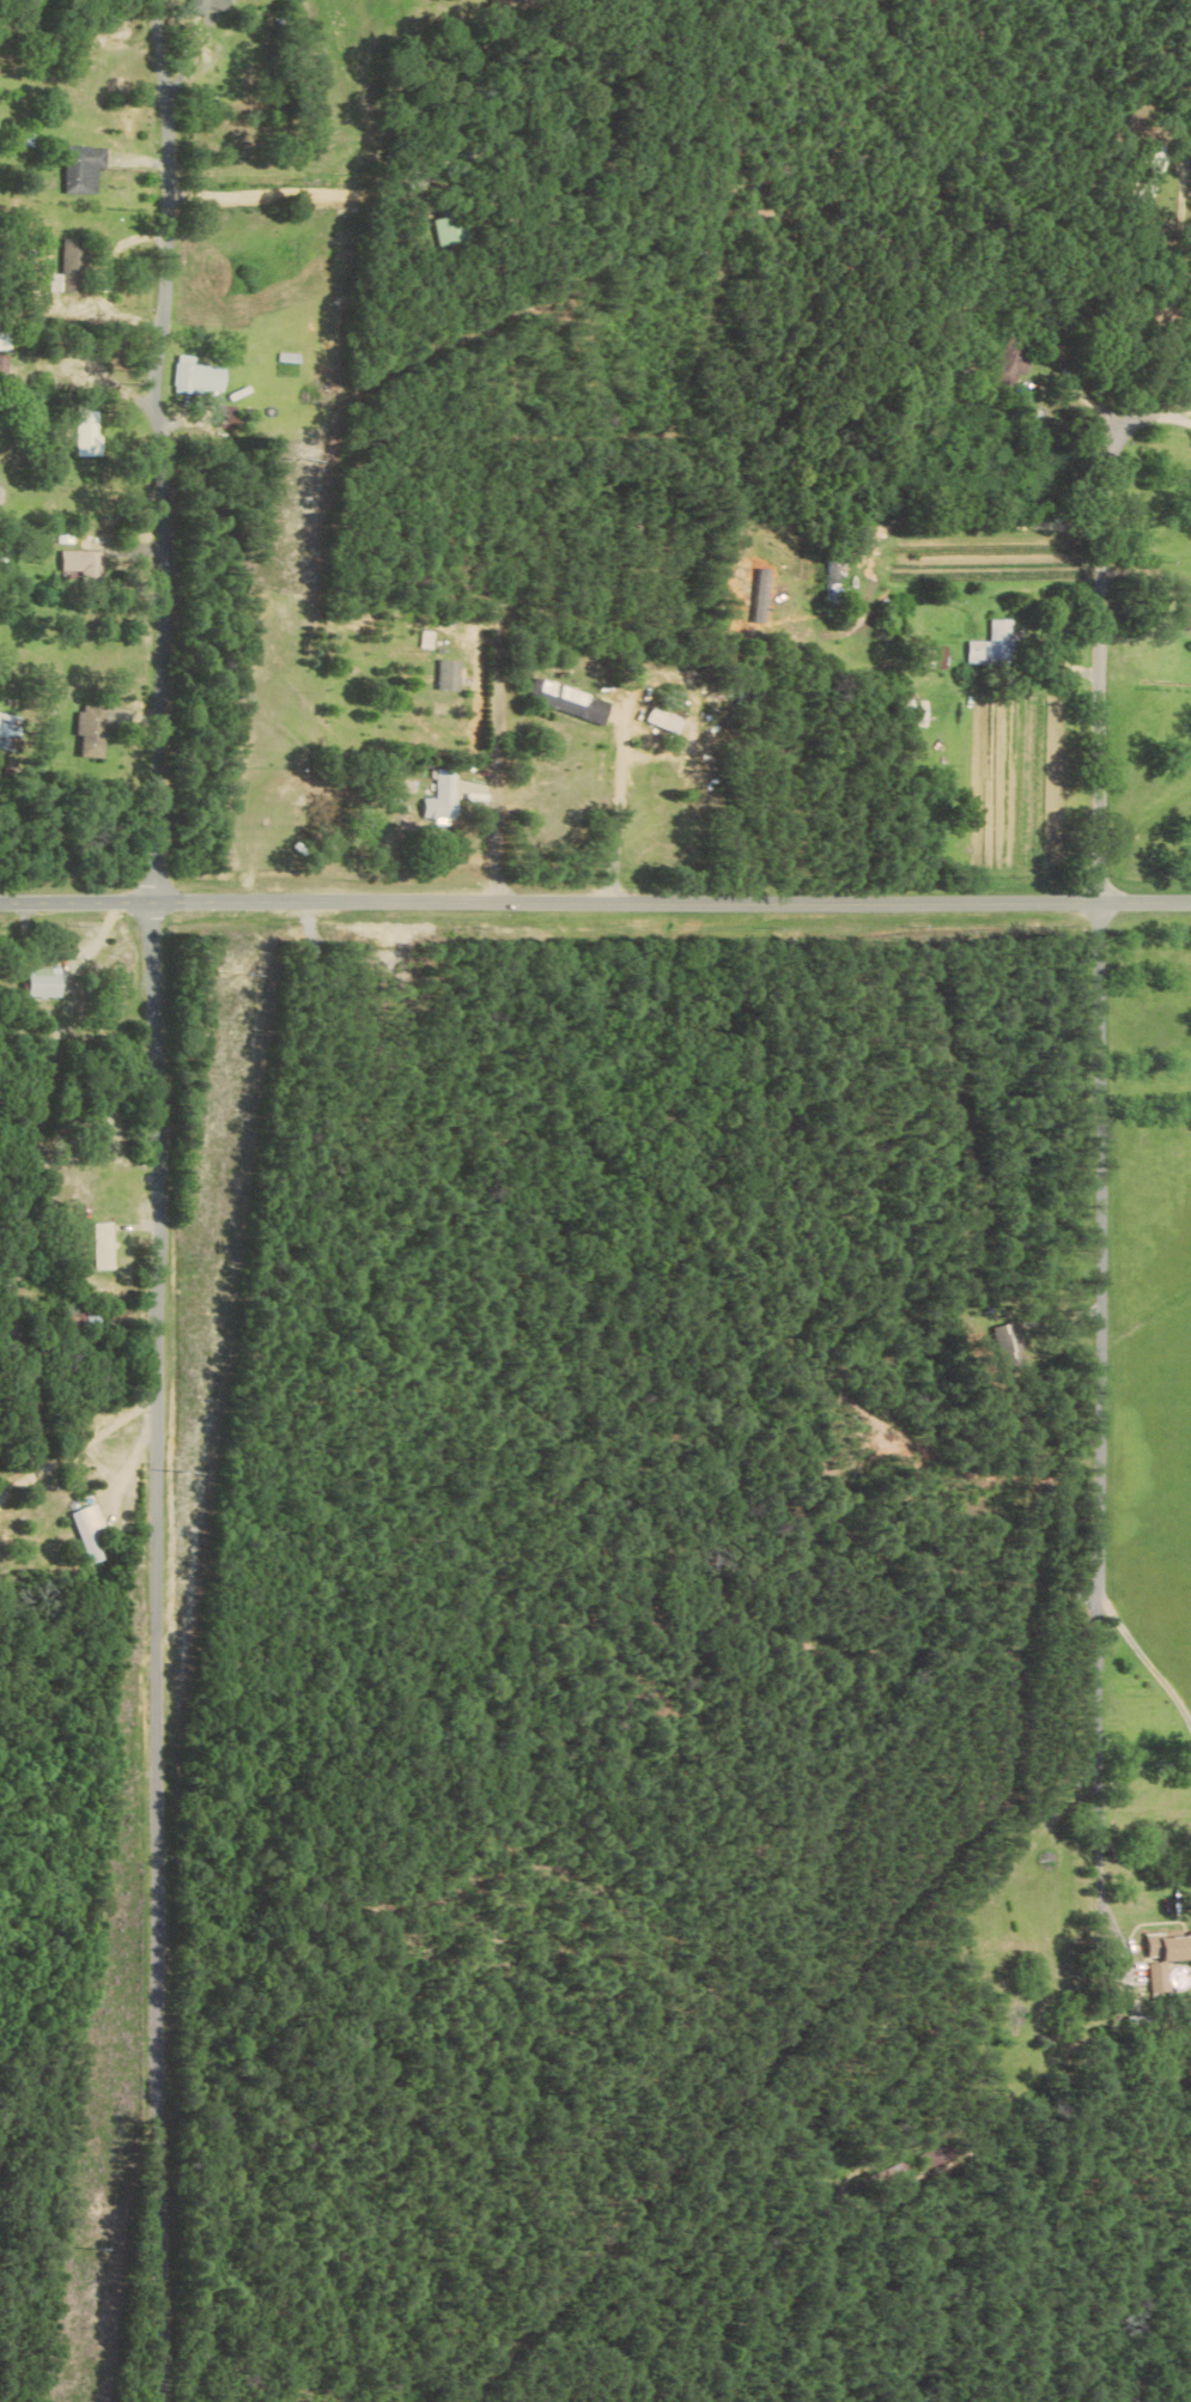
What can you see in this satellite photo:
building: (217, 5)
building: (86, 169)
road: (272, 196)
building: (444, 229)
building: (72, 267)
building: (5, 340)
building: (1013, 363)
building: (199, 376)
road: (1160, 413)
building: (90, 432)
road: (151, 450)
building: (85, 562)
road: (1112, 606)
building: (1190, 611)
building: (997, 645)
building: (941, 657)
building: (450, 673)
building: (570, 700)
building: (919, 712)
building: (664, 718)
building: (10, 729)
building: (93, 730)
building: (445, 796)
road: (625, 803)
road: (595, 903)
building: (41, 982)
building: (99, 1245)
building: (1014, 1345)
road: (1106, 1381)
building: (90, 1531)
road: (1142, 1648)
road: (159, 1651)
road: (1107, 1958)
building: (1167, 1958)

